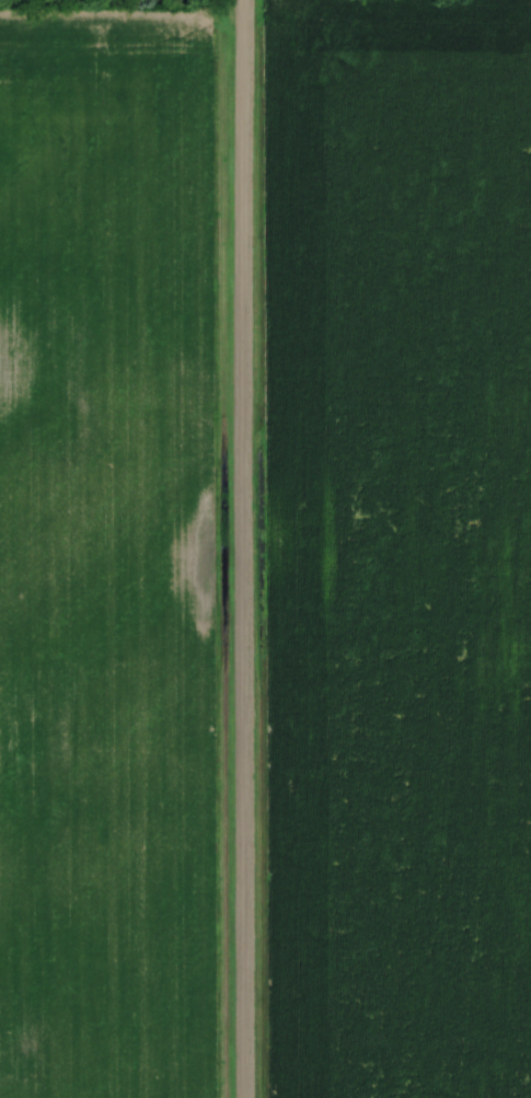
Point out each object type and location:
road: (238, 548)

